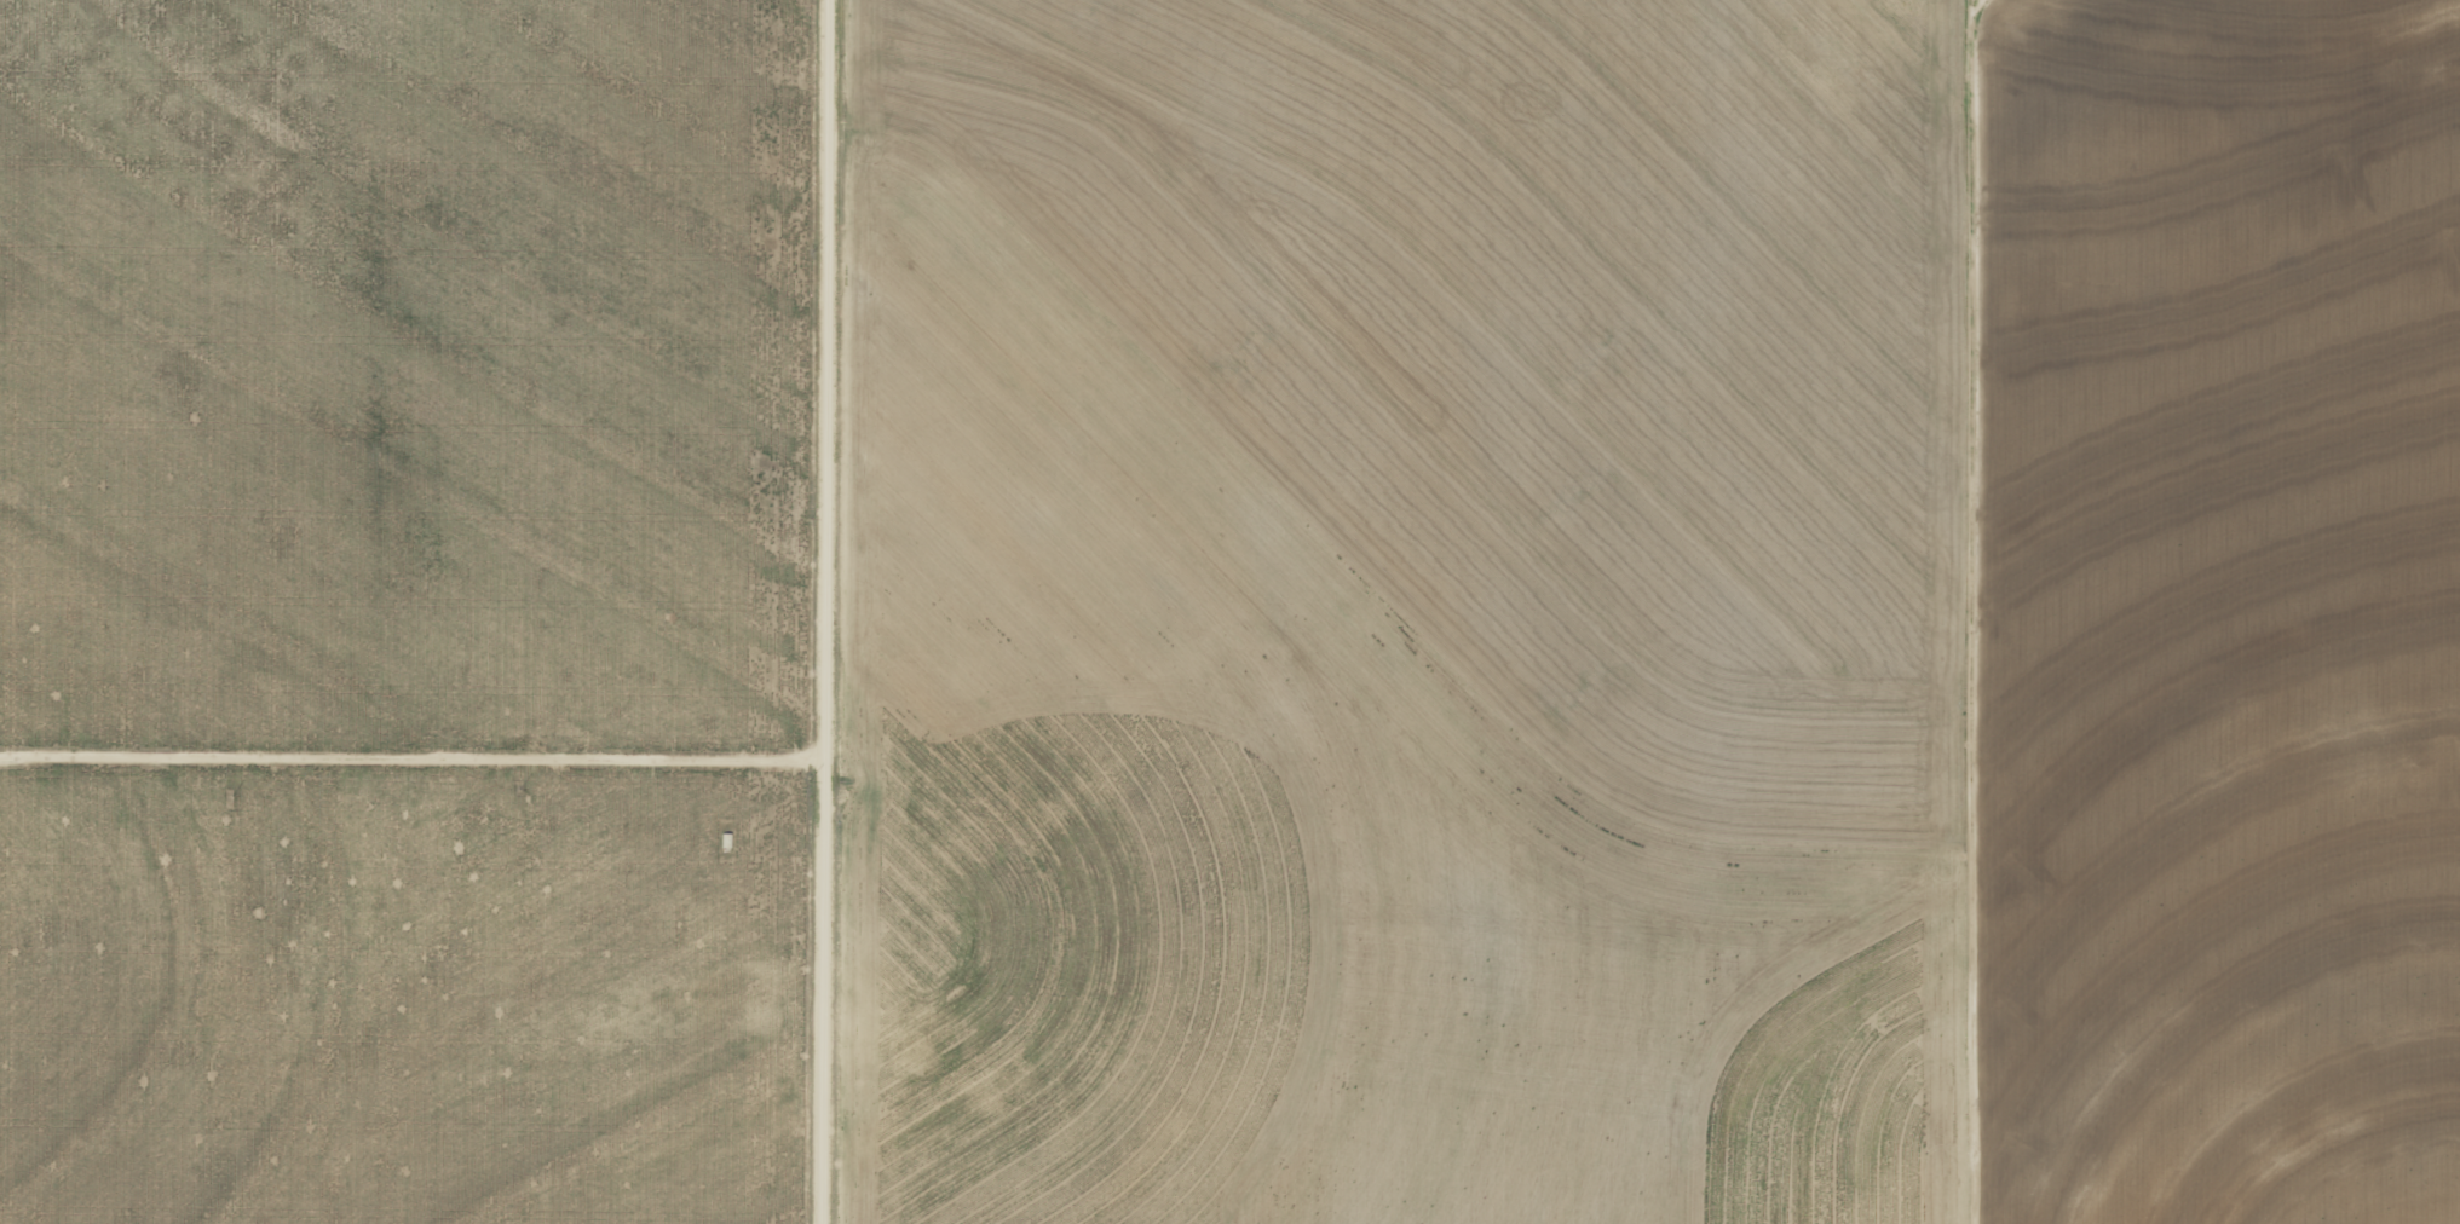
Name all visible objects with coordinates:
road: (831, 612)
road: (2017, 612)
road: (414, 775)

